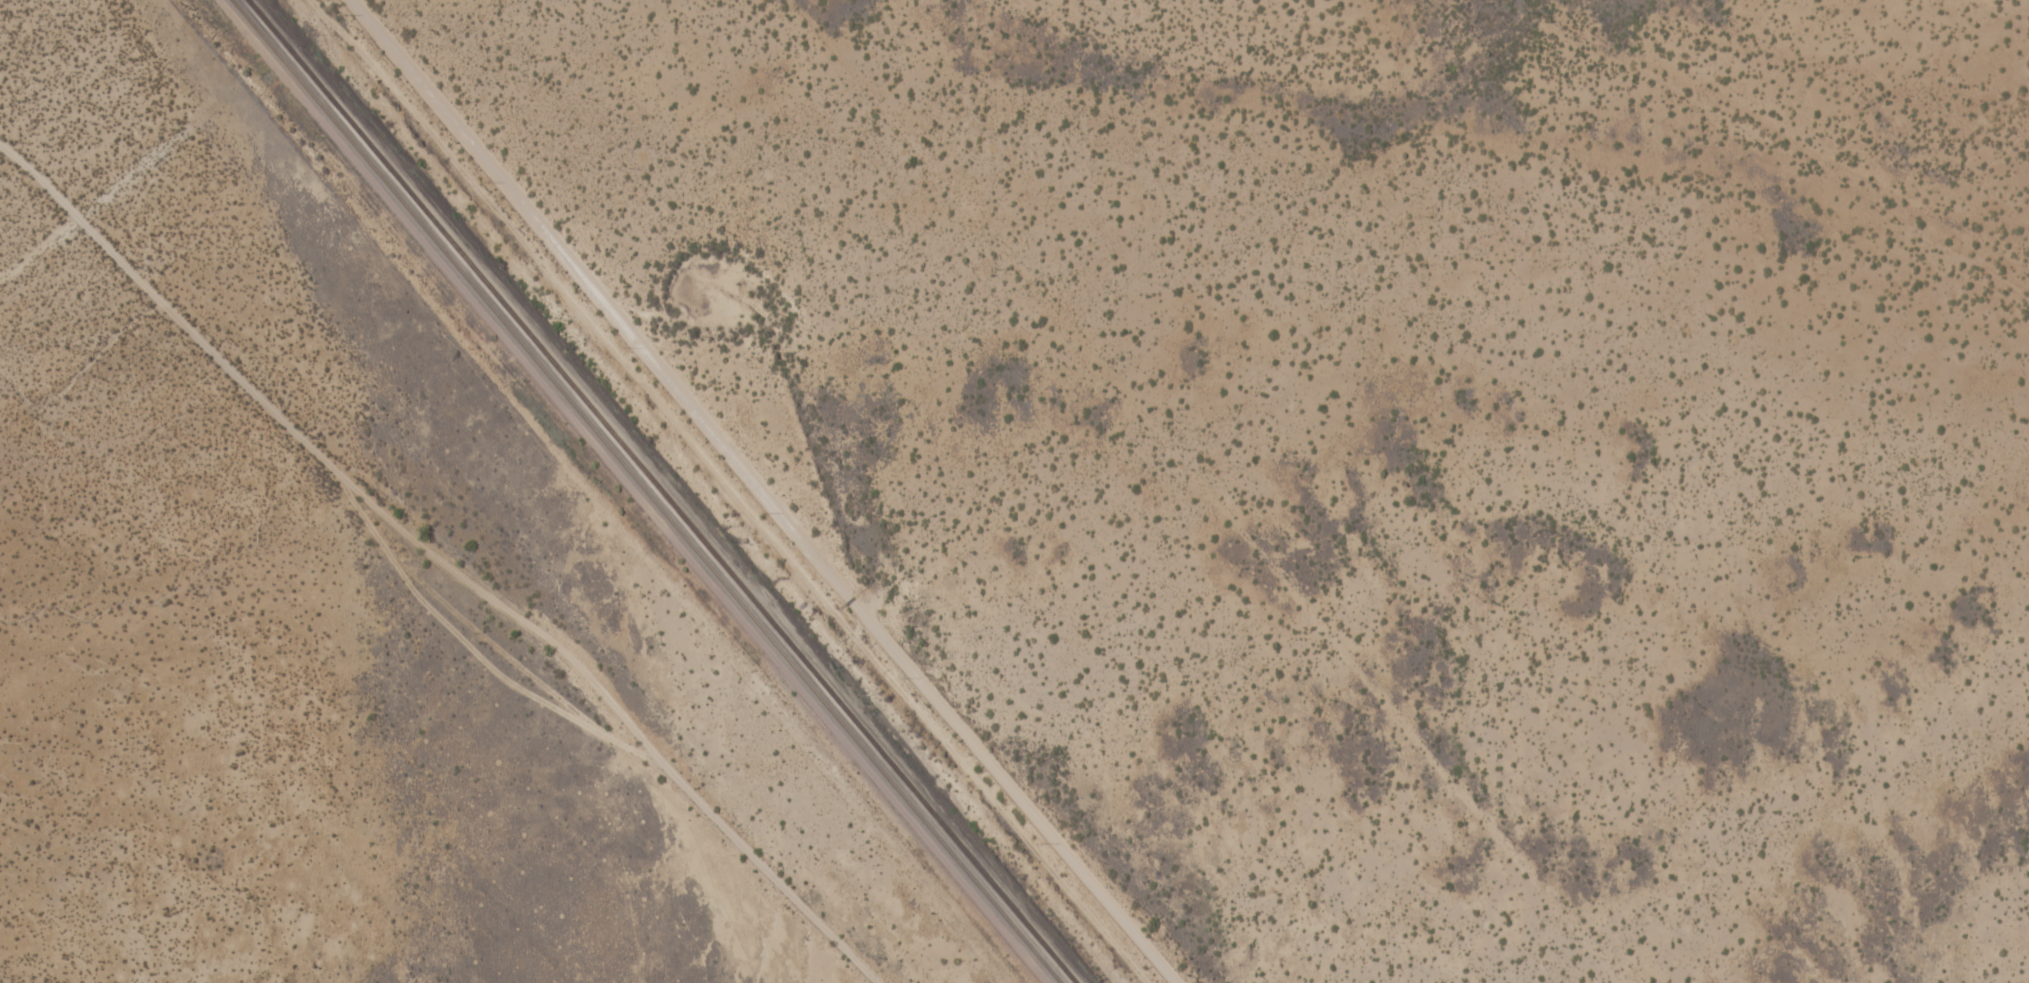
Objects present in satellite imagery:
railway: (645, 491)
railway: (661, 491)
road: (753, 493)
road: (458, 574)

